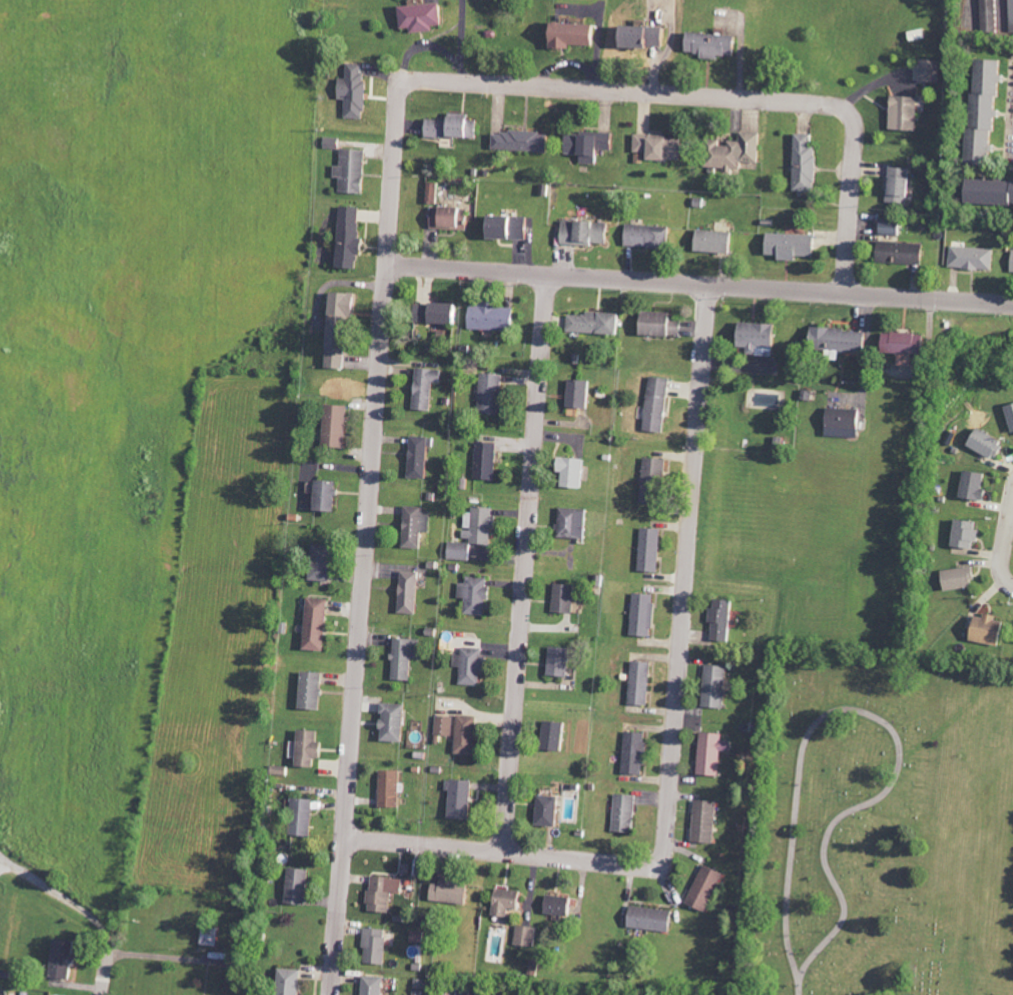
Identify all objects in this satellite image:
building: (989, 14)
building: (426, 17)
building: (576, 35)
building: (915, 35)
building: (648, 37)
building: (718, 46)
building: (929, 71)
road: (631, 90)
building: (359, 91)
building: (901, 113)
building: (977, 113)
building: (456, 127)
building: (524, 141)
building: (592, 146)
building: (662, 147)
building: (738, 152)
building: (801, 162)
building: (355, 172)
building: (895, 185)
building: (985, 191)
building: (435, 193)
road: (849, 203)
building: (452, 218)
building: (886, 226)
building: (513, 228)
building: (588, 233)
building: (648, 236)
building: (353, 239)
building: (708, 240)
building: (785, 245)
building: (896, 251)
building: (969, 257)
building: (1011, 262)
road: (700, 283)
building: (441, 314)
building: (491, 317)
building: (590, 322)
building: (656, 323)
building: (343, 331)
building: (752, 337)
building: (833, 341)
building: (898, 342)
building: (423, 387)
building: (489, 393)
building: (577, 393)
building: (655, 404)
building: (1008, 416)
building: (839, 422)
building: (332, 425)
building: (982, 443)
building: (417, 455)
building: (484, 460)
building: (653, 468)
building: (567, 471)
building: (970, 485)
building: (321, 495)
building: (571, 522)
building: (412, 525)
building: (479, 525)
building: (963, 533)
road: (368, 538)
road: (1003, 540)
building: (648, 549)
building: (460, 550)
building: (317, 562)
road: (525, 562)
road: (685, 569)
building: (955, 578)
building: (405, 592)
building: (473, 595)
building: (561, 598)
building: (641, 614)
building: (718, 620)
building: (313, 624)
building: (982, 629)
building: (402, 657)
building: (555, 661)
building: (468, 666)
building: (638, 683)
building: (712, 686)
building: (308, 690)
building: (390, 722)
building: (443, 726)
building: (464, 734)
building: (550, 735)
building: (304, 748)
building: (633, 752)
building: (709, 752)
building: (387, 788)
building: (457, 799)
building: (544, 810)
building: (623, 812)
building: (298, 817)
building: (701, 821)
road: (552, 843)
road: (503, 851)
building: (295, 886)
building: (702, 888)
building: (381, 892)
building: (445, 892)
road: (62, 896)
building: (503, 901)
building: (554, 905)
building: (647, 918)
building: (208, 936)
building: (524, 936)
building: (373, 946)
building: (67, 958)
road: (106, 971)
building: (285, 982)
building: (370, 985)
building: (418, 991)

